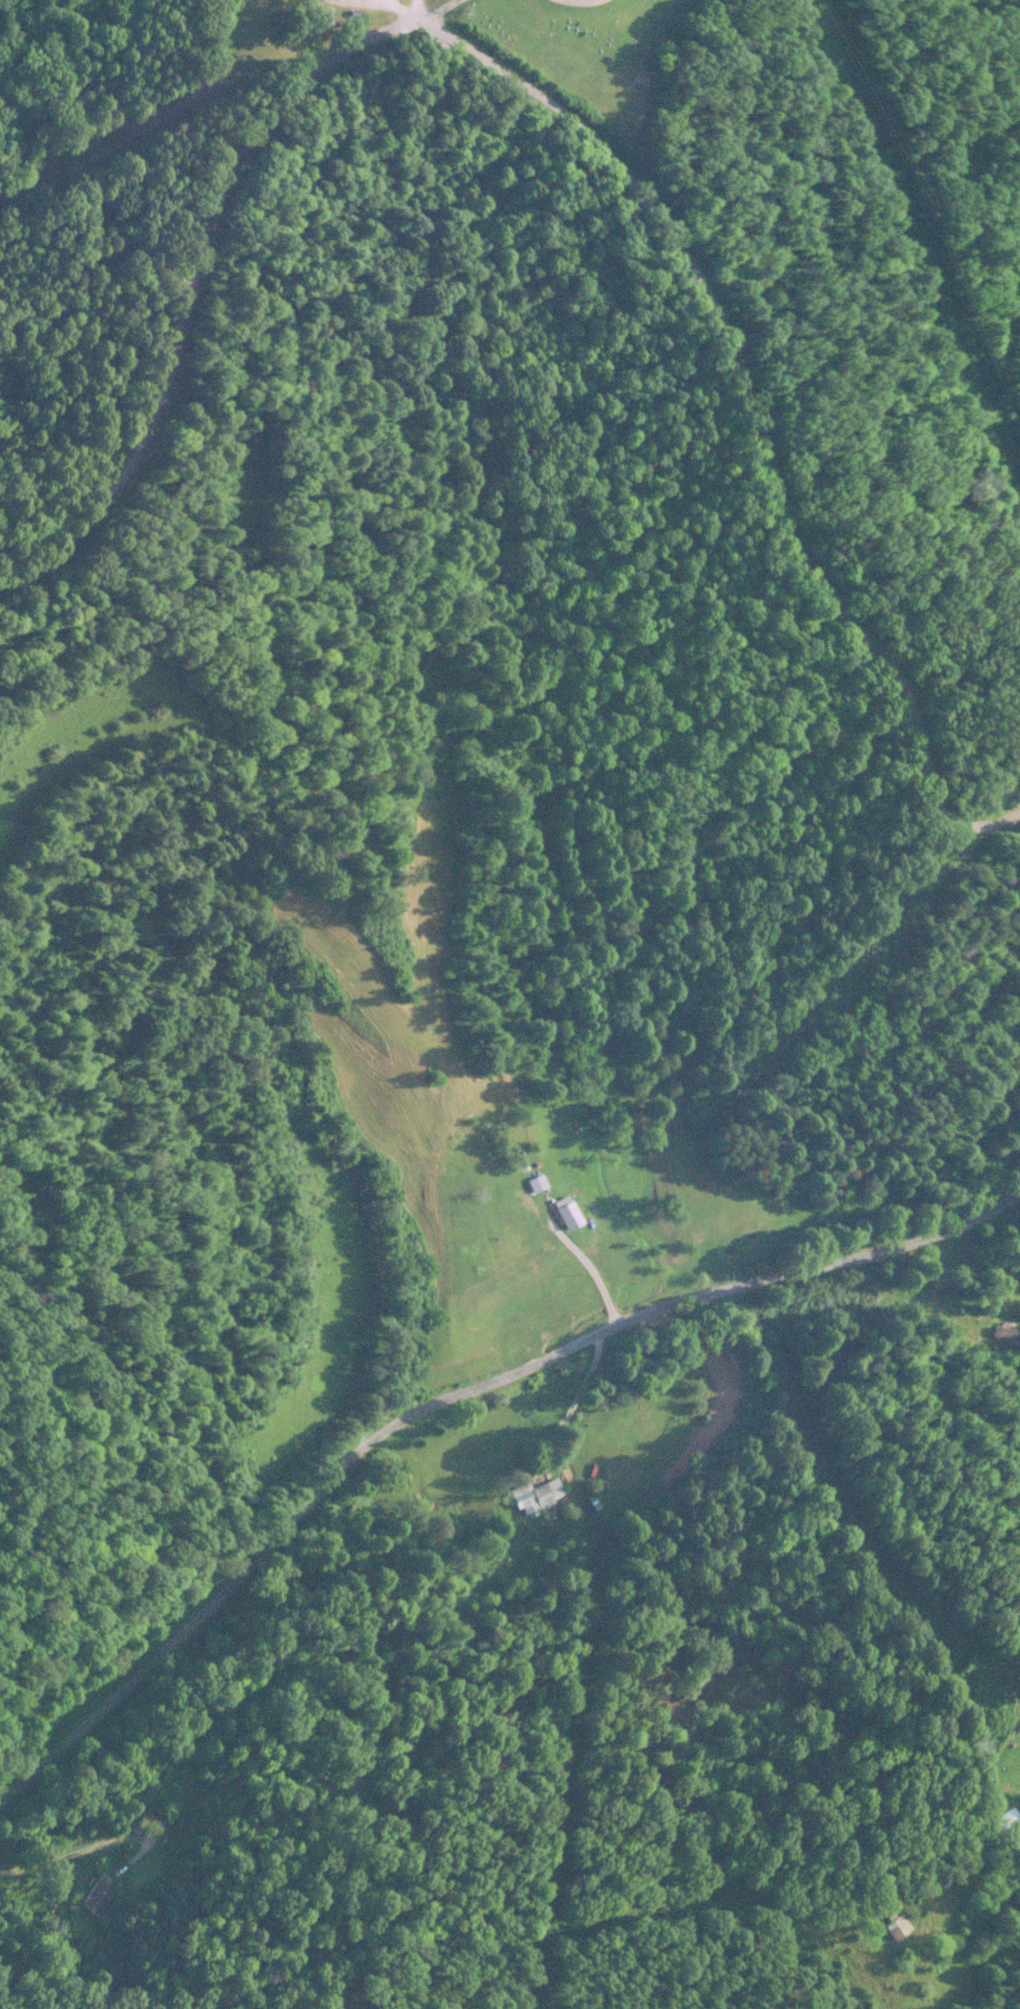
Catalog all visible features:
road: (417, 11)
road: (438, 11)
park: (608, 52)
road: (199, 320)
road: (757, 418)
building: (570, 1217)
building: (539, 1247)
road: (453, 1438)
building: (534, 1500)
building: (97, 1898)

